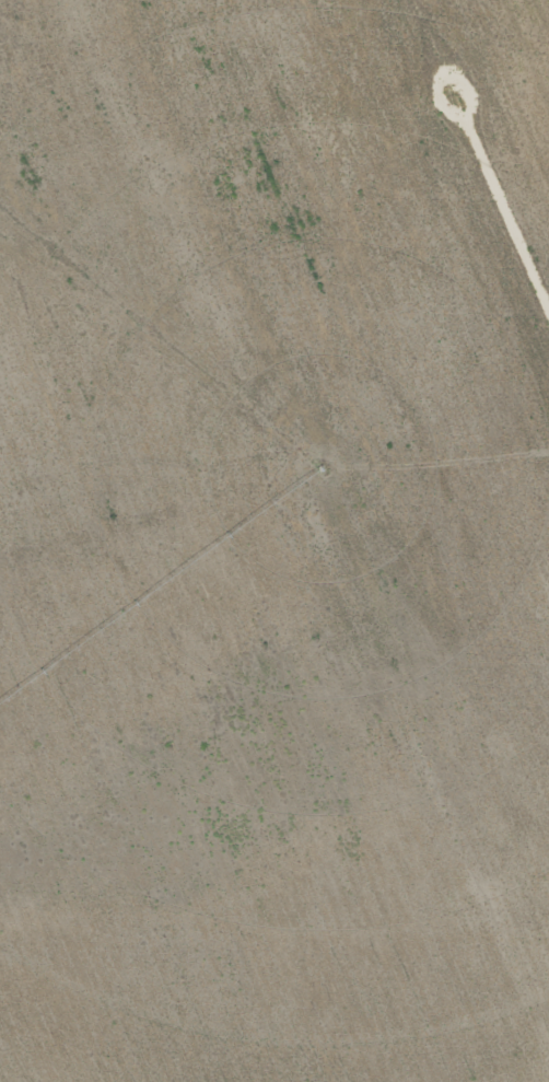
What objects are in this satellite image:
road: (396, 86)

